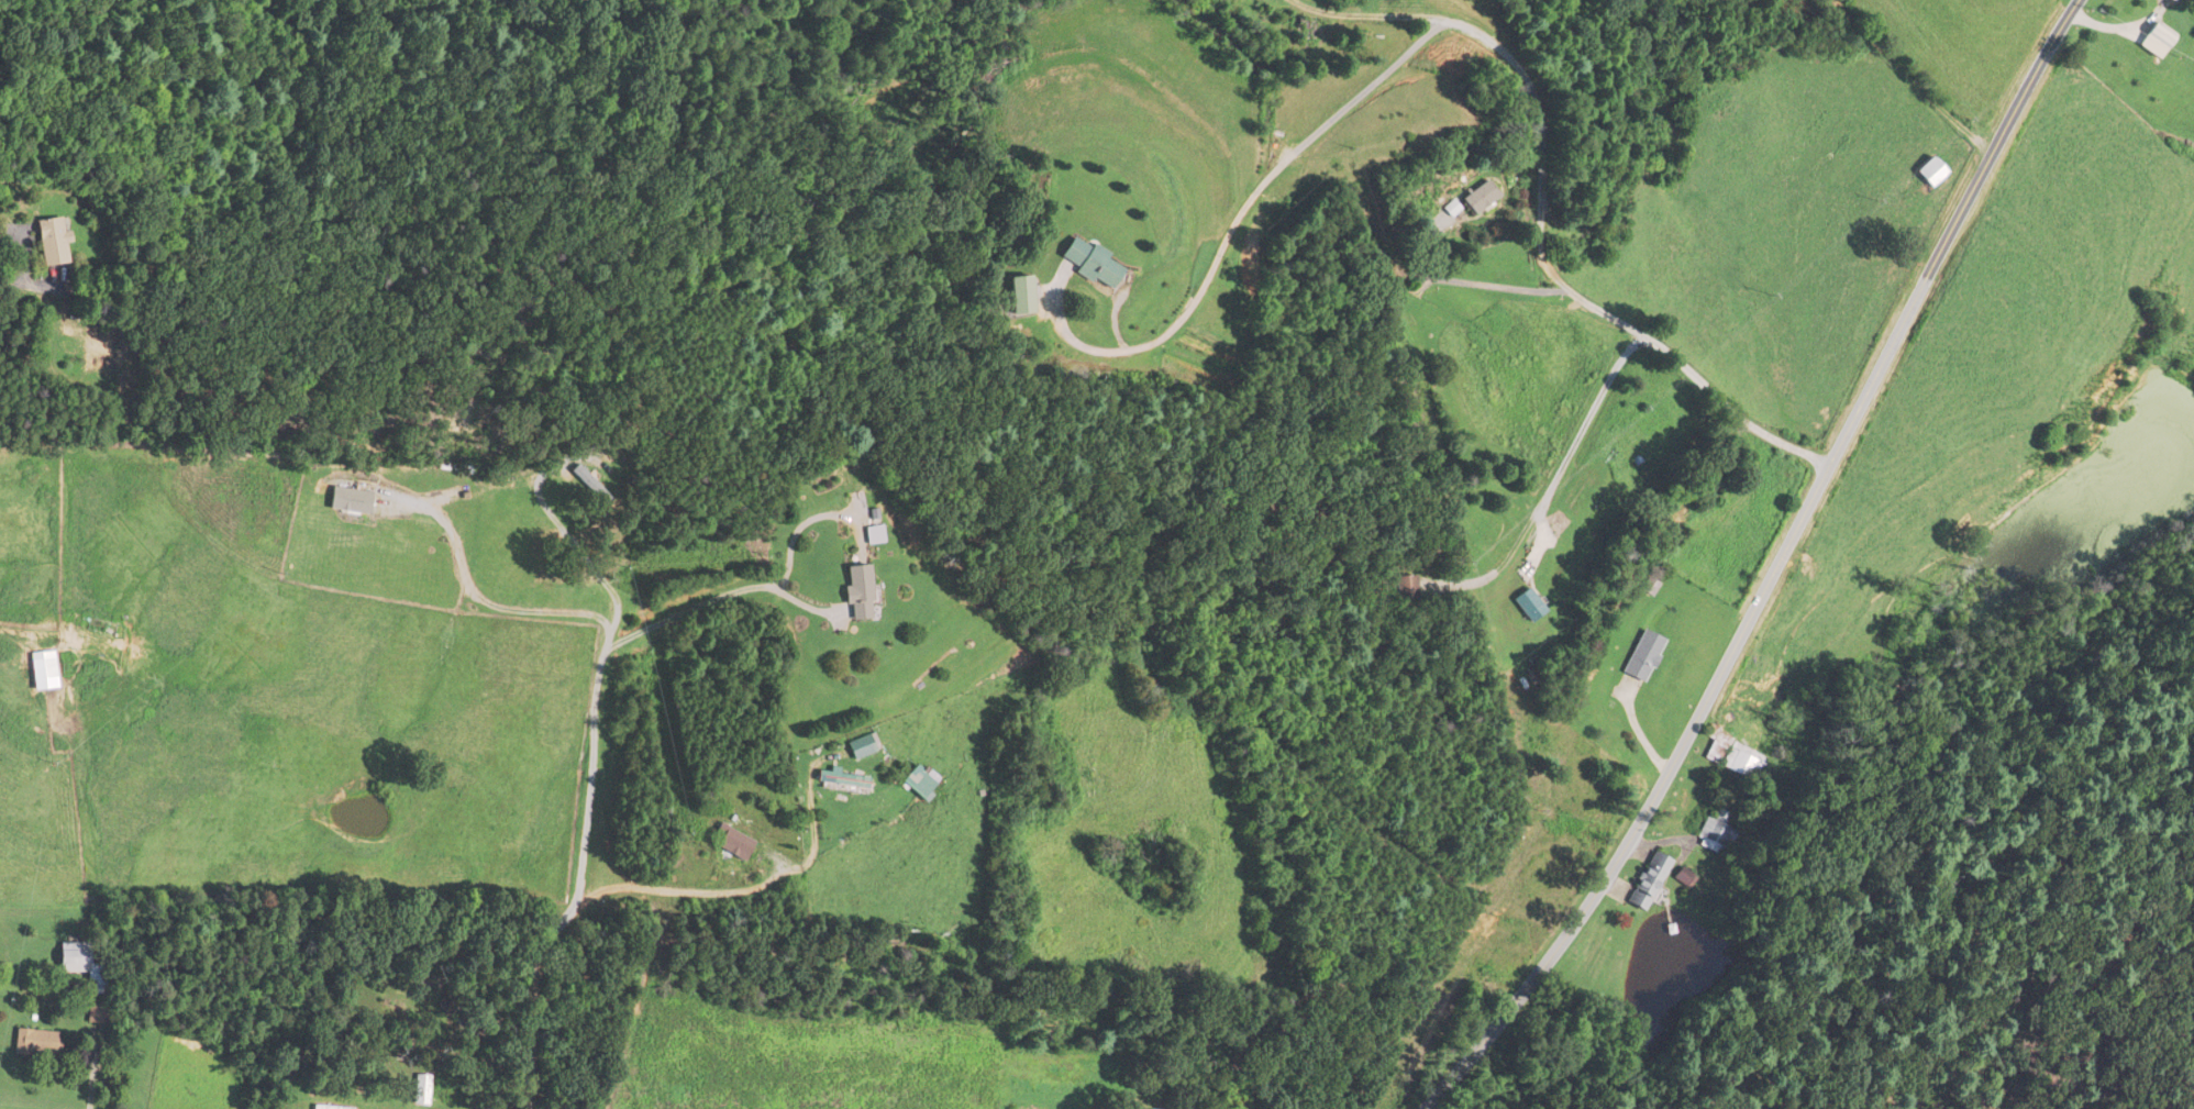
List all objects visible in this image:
road: (1849, 8)
building: (1307, 29)
building: (2160, 35)
road: (1936, 67)
building: (1928, 173)
building: (1481, 197)
road: (1964, 200)
road: (1233, 223)
road: (1539, 225)
road: (8, 226)
building: (51, 243)
building: (1089, 265)
road: (1483, 284)
road: (10, 291)
building: (1019, 297)
road: (1544, 477)
building: (588, 484)
building: (872, 535)
building: (1406, 587)
building: (1648, 588)
building: (855, 595)
road: (486, 600)
road: (710, 601)
building: (1529, 606)
building: (101, 628)
building: (1643, 657)
building: (52, 662)
road: (589, 692)
building: (861, 746)
building: (1732, 757)
road: (1666, 772)
building: (840, 783)
building: (917, 783)
building: (1715, 834)
building: (732, 844)
building: (1682, 877)
building: (1649, 883)
road: (618, 896)
building: (99, 1013)
building: (36, 1044)
building: (422, 1090)
building: (329, 1108)

